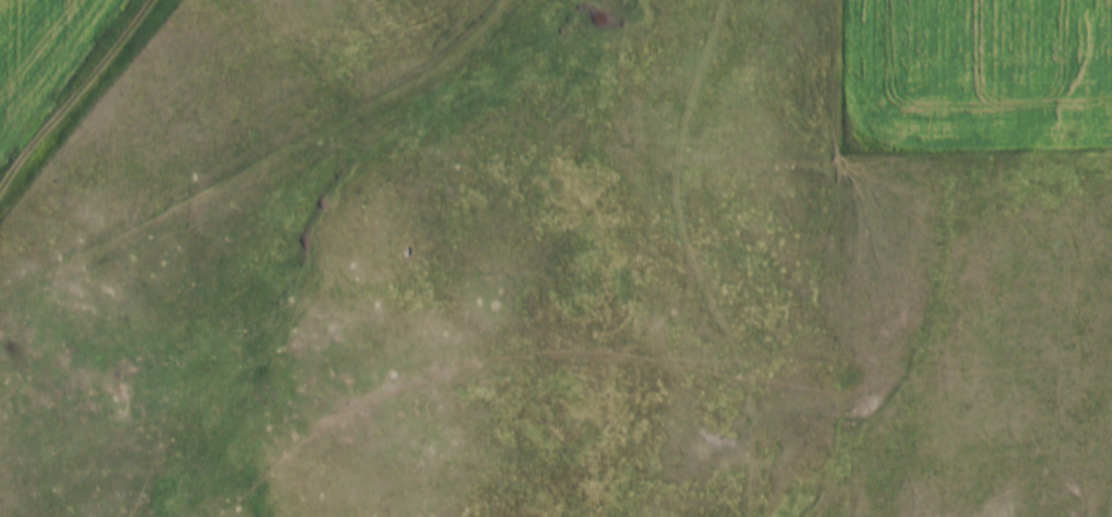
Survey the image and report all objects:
crop: (39, 56)
crop: (980, 72)
road: (79, 98)

